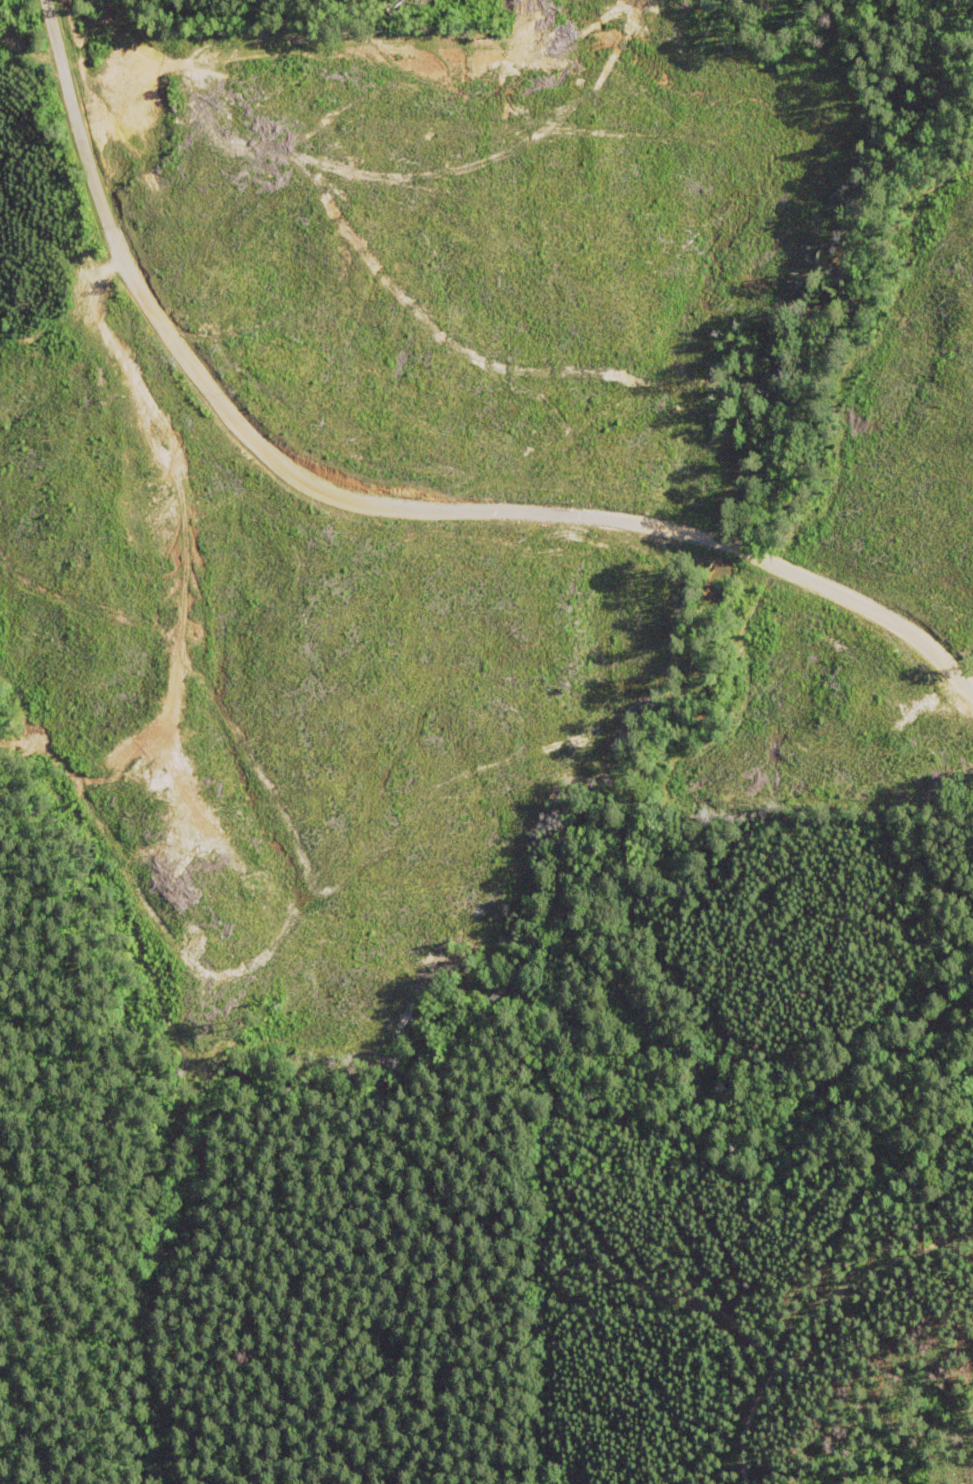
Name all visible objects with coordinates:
road: (385, 519)

